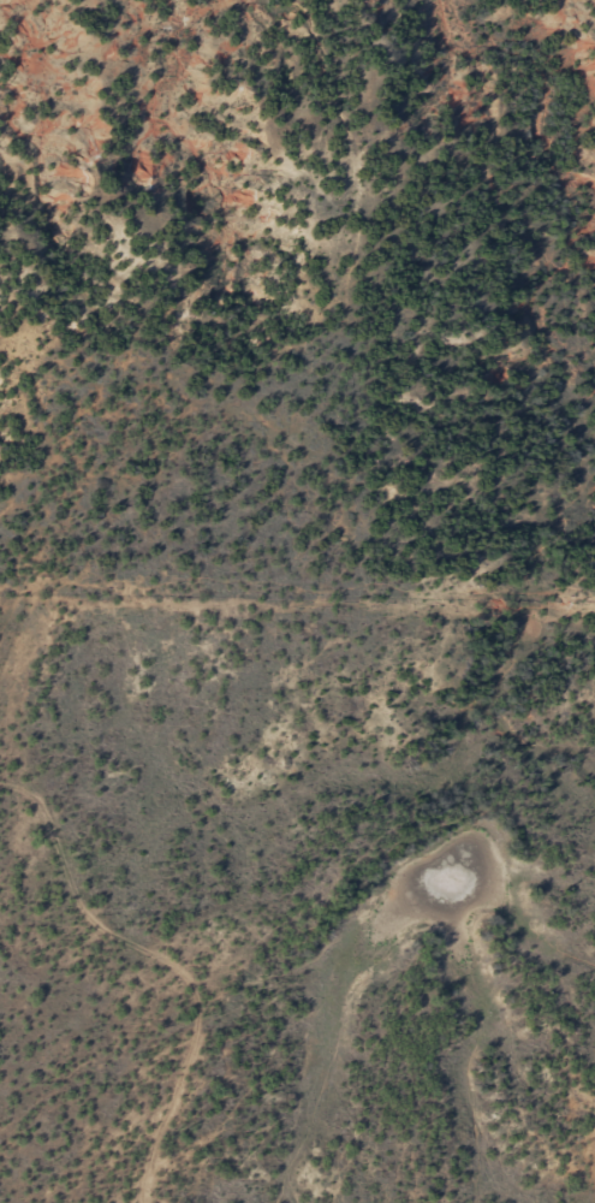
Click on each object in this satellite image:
road: (269, 878)

